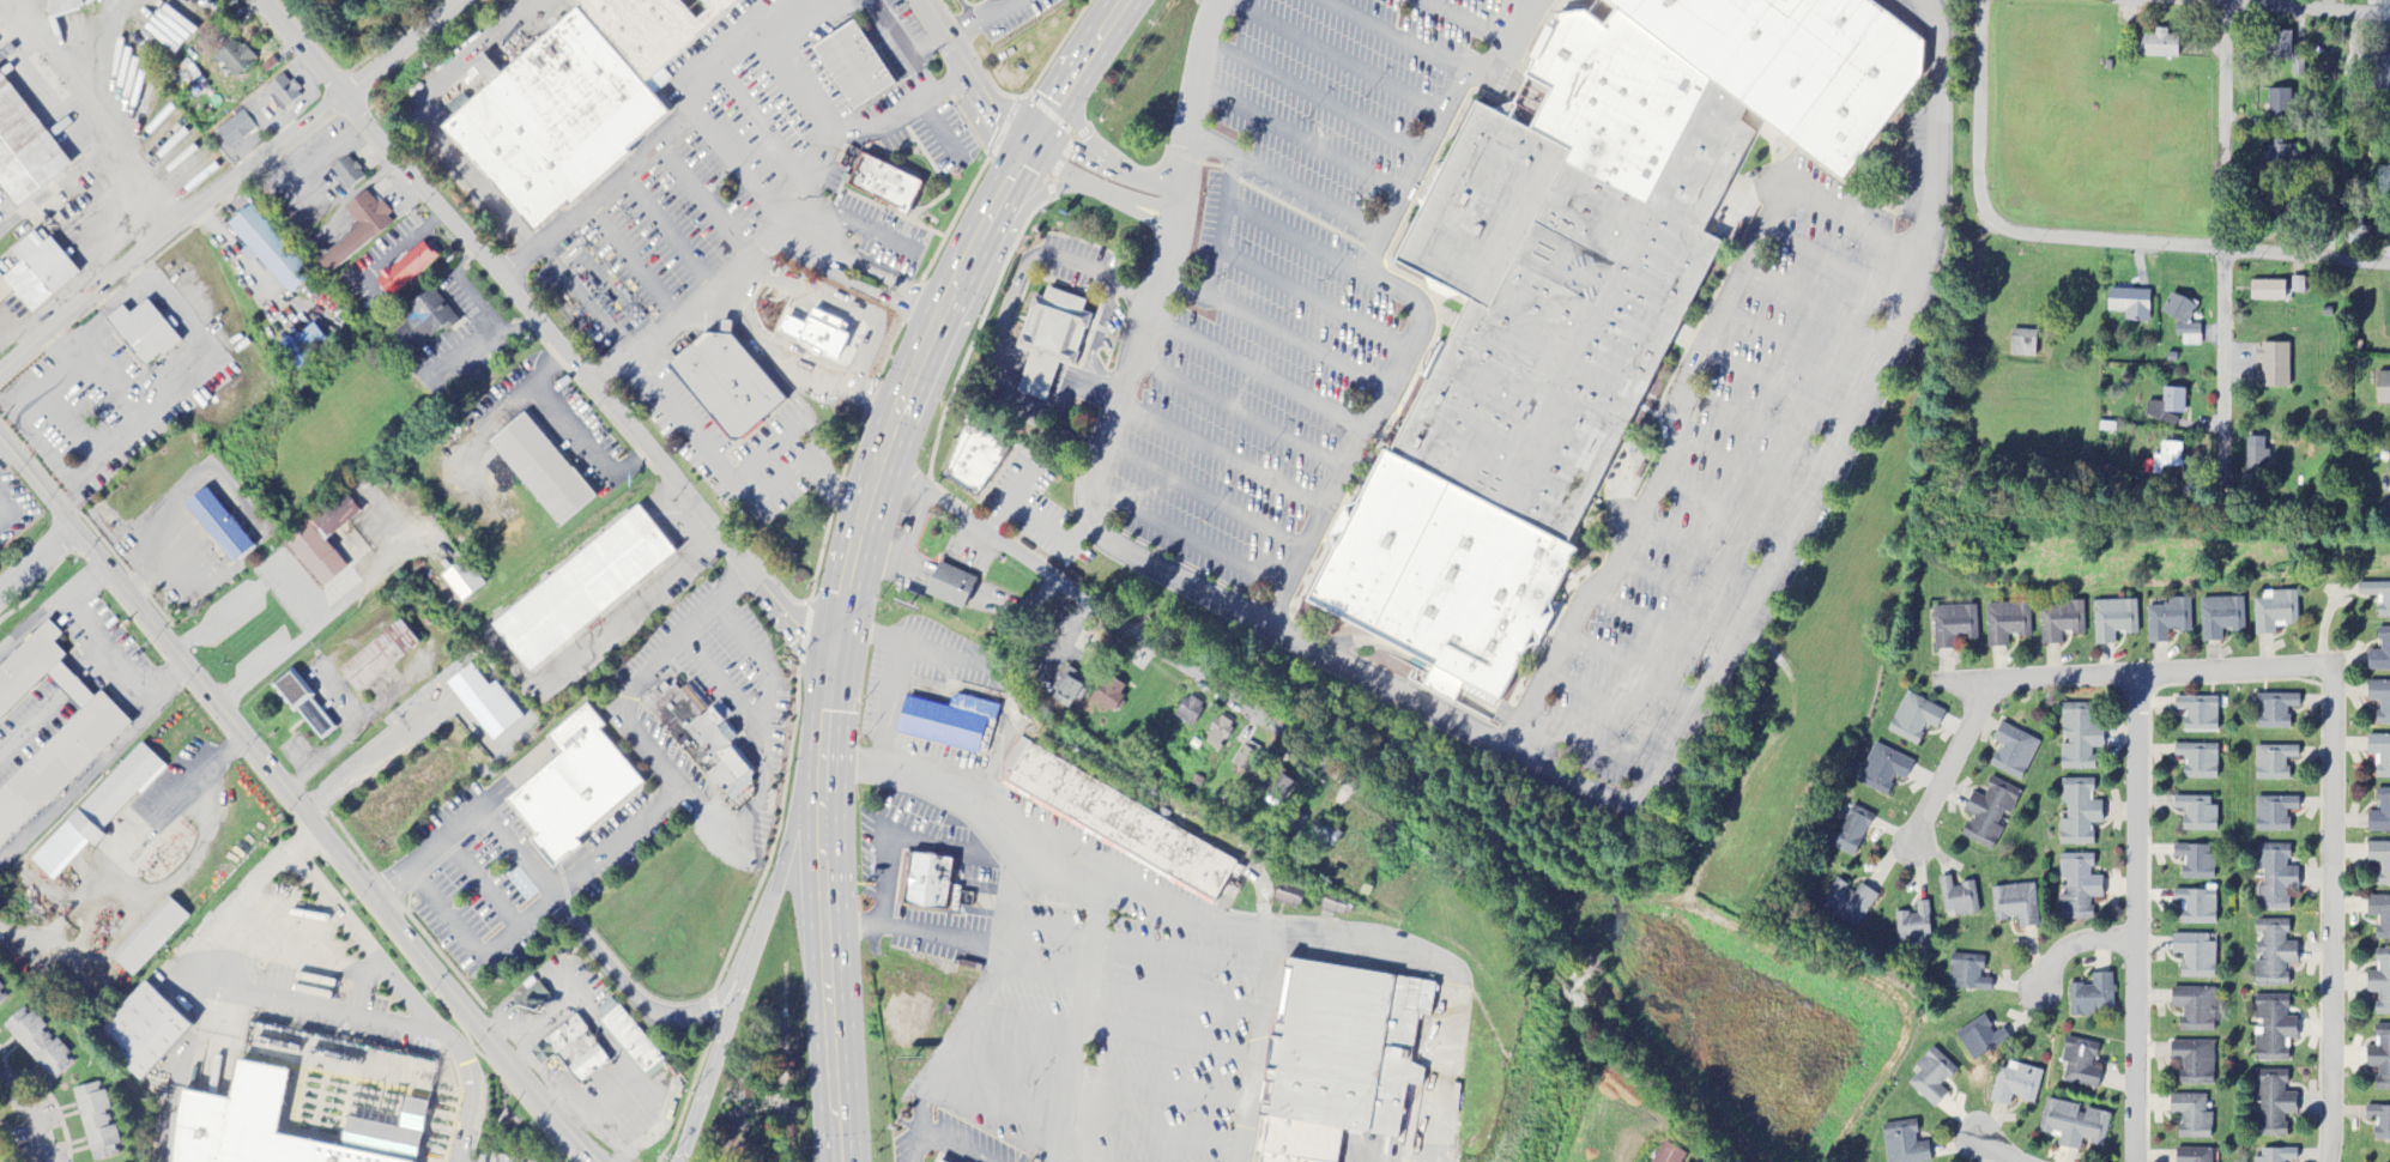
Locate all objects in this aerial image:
building: (757, 0)
road: (819, 1)
road: (1526, 2)
building: (66, 6)
road: (976, 7)
road: (994, 7)
road: (2274, 10)
road: (885, 17)
road: (1466, 22)
road: (963, 23)
road: (1393, 37)
building: (2159, 46)
building: (2277, 47)
road: (1327, 56)
building: (234, 58)
building: (852, 67)
building: (2297, 67)
building: (2383, 73)
road: (974, 74)
road: (803, 89)
building: (282, 92)
road: (1311, 95)
building: (576, 101)
building: (2279, 103)
road: (1439, 117)
road: (418, 121)
road: (939, 129)
building: (235, 131)
road: (664, 138)
road: (1296, 138)
traffic signals: (1029, 145)
road: (1040, 150)
building: (23, 151)
building: (2276, 157)
road: (1113, 169)
building: (347, 174)
road: (66, 178)
building: (2383, 183)
road: (228, 184)
building: (883, 184)
road: (1281, 186)
road: (1102, 194)
road: (1819, 206)
building: (1614, 223)
road: (121, 225)
road: (782, 225)
road: (858, 226)
building: (358, 230)
road: (1218, 230)
road: (2222, 234)
road: (1300, 237)
road: (2074, 243)
road: (812, 246)
building: (267, 249)
road: (633, 262)
road: (1835, 265)
road: (840, 267)
building: (405, 270)
building: (36, 272)
building: (2298, 285)
building: (2267, 292)
road: (1309, 299)
road: (920, 304)
building: (2130, 304)
road: (1815, 307)
road: (837, 308)
building: (2178, 309)
building: (424, 322)
road: (18, 327)
road: (1272, 332)
building: (141, 333)
road: (546, 333)
building: (2189, 335)
building: (1046, 339)
building: (2022, 344)
road: (1795, 346)
building: (301, 347)
road: (793, 358)
building: (2273, 367)
road: (1254, 370)
building: (724, 382)
road: (1773, 387)
building: (2383, 389)
building: (2166, 407)
road: (1238, 411)
road: (1753, 426)
road: (564, 429)
road: (1361, 434)
building: (2255, 454)
road: (1220, 456)
building: (2165, 459)
building: (970, 464)
road: (1741, 468)
building: (540, 470)
road: (1660, 474)
road: (737, 483)
road: (1200, 497)
road: (1722, 510)
road: (861, 522)
building: (217, 526)
road: (1185, 539)
building: (321, 541)
road: (1700, 551)
road: (36, 564)
building: (1436, 579)
building: (461, 580)
building: (950, 587)
building: (582, 589)
road: (1678, 593)
building: (2377, 597)
road: (641, 603)
building: (2275, 612)
building: (2221, 618)
road: (31, 619)
building: (2113, 621)
building: (2167, 621)
building: (2059, 622)
building: (2007, 623)
road: (1121, 624)
parking lot: (751, 625)
building: (1953, 625)
road: (1652, 629)
road: (108, 642)
building: (2380, 653)
building: (377, 656)
parking lot: (732, 660)
road: (897, 671)
road: (1630, 671)
traffic signals: (828, 674)
parking lot: (696, 676)
road: (719, 682)
building: (1067, 689)
building: (1109, 695)
building: (2380, 701)
building: (304, 706)
road: (1611, 707)
road: (762, 712)
building: (2274, 712)
building: (1188, 713)
building: (2197, 713)
building: (1913, 719)
road: (2330, 722)
building: (949, 724)
road: (634, 727)
parking lot: (776, 731)
building: (698, 732)
building: (1217, 734)
building: (2079, 737)
road: (1591, 745)
road: (1508, 748)
building: (2013, 752)
building: (2379, 755)
road: (375, 756)
building: (65, 757)
building: (1245, 758)
building: (2197, 761)
building: (2273, 763)
parking lot: (683, 765)
road: (1952, 765)
building: (1882, 770)
road: (198, 777)
road: (81, 782)
building: (571, 786)
road: (672, 795)
road: (296, 803)
building: (97, 812)
building: (1987, 813)
building: (2077, 813)
building: (2273, 813)
building: (2380, 813)
building: (2196, 815)
building: (1118, 823)
parking lot: (762, 825)
building: (1851, 833)
building: (1325, 835)
parking lot: (621, 840)
road: (607, 848)
building: (2195, 861)
building: (2379, 861)
building: (2274, 877)
road: (388, 878)
road: (478, 880)
parking lot: (476, 882)
building: (930, 884)
road: (1140, 886)
building: (2077, 888)
road: (399, 890)
road: (553, 892)
building: (1288, 897)
building: (1958, 898)
building: (1846, 904)
building: (2015, 906)
building: (1336, 907)
building: (2196, 907)
building: (2379, 916)
road: (2131, 919)
building: (1913, 926)
building: (149, 938)
road: (2073, 945)
building: (2273, 954)
building: (2195, 956)
road: (1042, 958)
road: (751, 960)
building: (1967, 974)
road: (990, 975)
road: (395, 981)
building: (2380, 984)
road: (248, 994)
building: (2, 995)
building: (2092, 997)
building: (531, 998)
building: (2195, 1009)
road: (659, 1013)
road: (1081, 1015)
building: (2273, 1029)
building: (144, 1031)
building: (630, 1040)
building: (1980, 1040)
parking lot: (1077, 1041)
building: (37, 1043)
building: (576, 1051)
building: (2380, 1058)
building: (1353, 1063)
building: (2194, 1063)
building: (2080, 1064)
building: (1931, 1078)
building: (2015, 1085)
building: (2271, 1104)
road: (32, 1116)
building: (2190, 1116)
building: (96, 1120)
building: (2379, 1122)
building: (246, 1125)
building: (2073, 1125)
road: (839, 1136)
road: (954, 1143)
building: (1904, 1143)
road: (1992, 1149)
building: (1668, 1154)
building: (2192, 1155)
building: (2276, 1156)
parking lot: (502, 1158)
building: (938, 1161)

